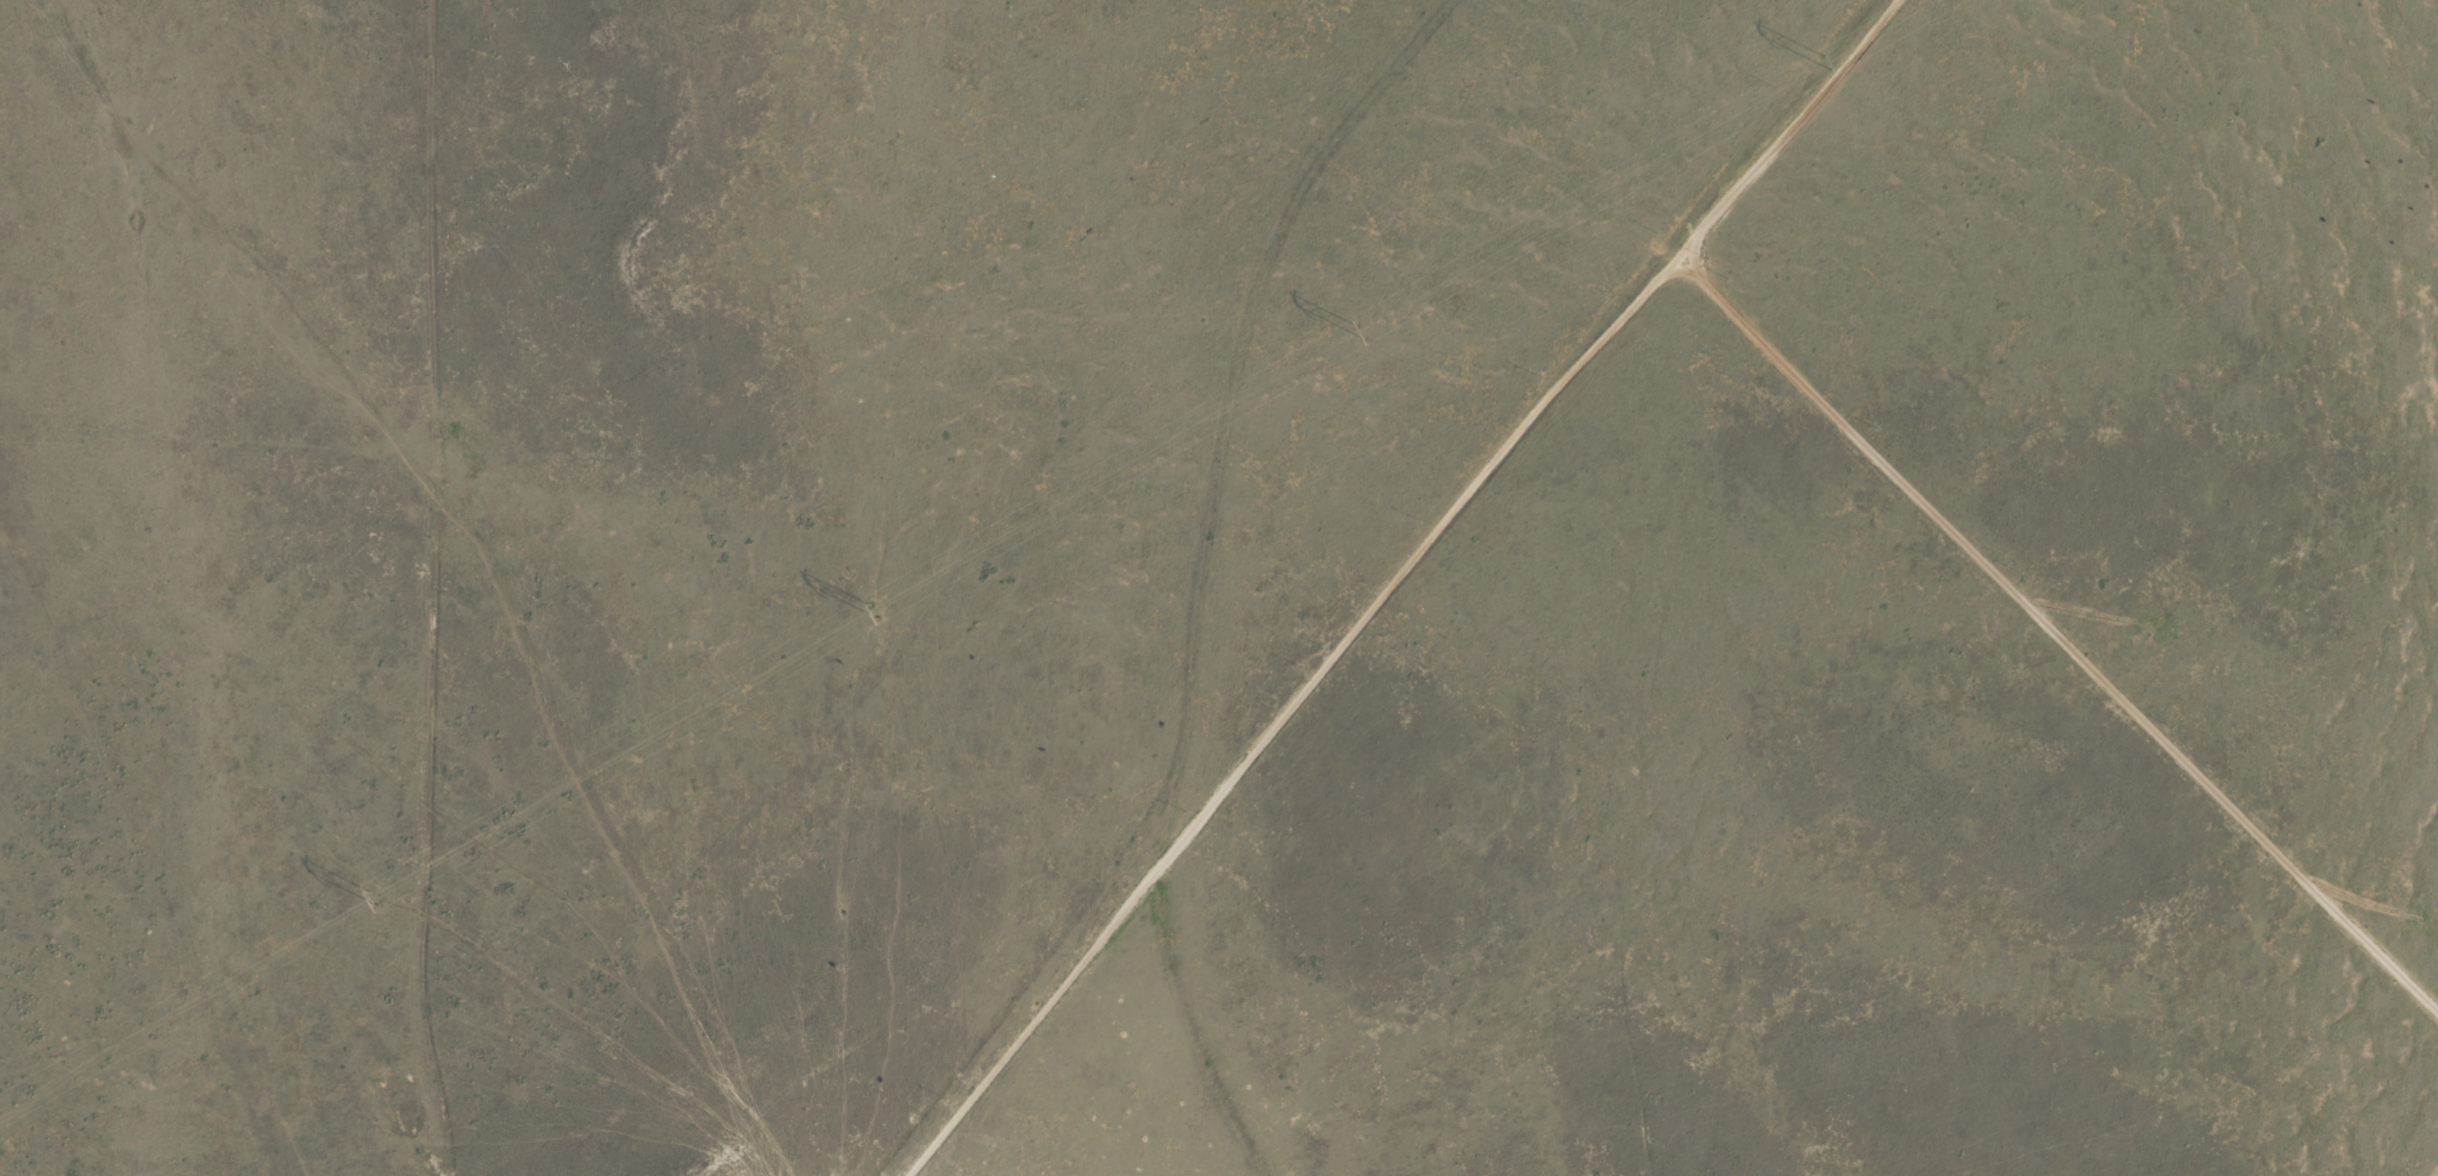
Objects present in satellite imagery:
power tower: (1825, 60)
road: (1663, 236)
road: (394, 243)
power tower: (1357, 330)
power tower: (873, 609)
road: (1186, 824)
road: (262, 839)
power tower: (374, 895)
road: (1179, 1028)

